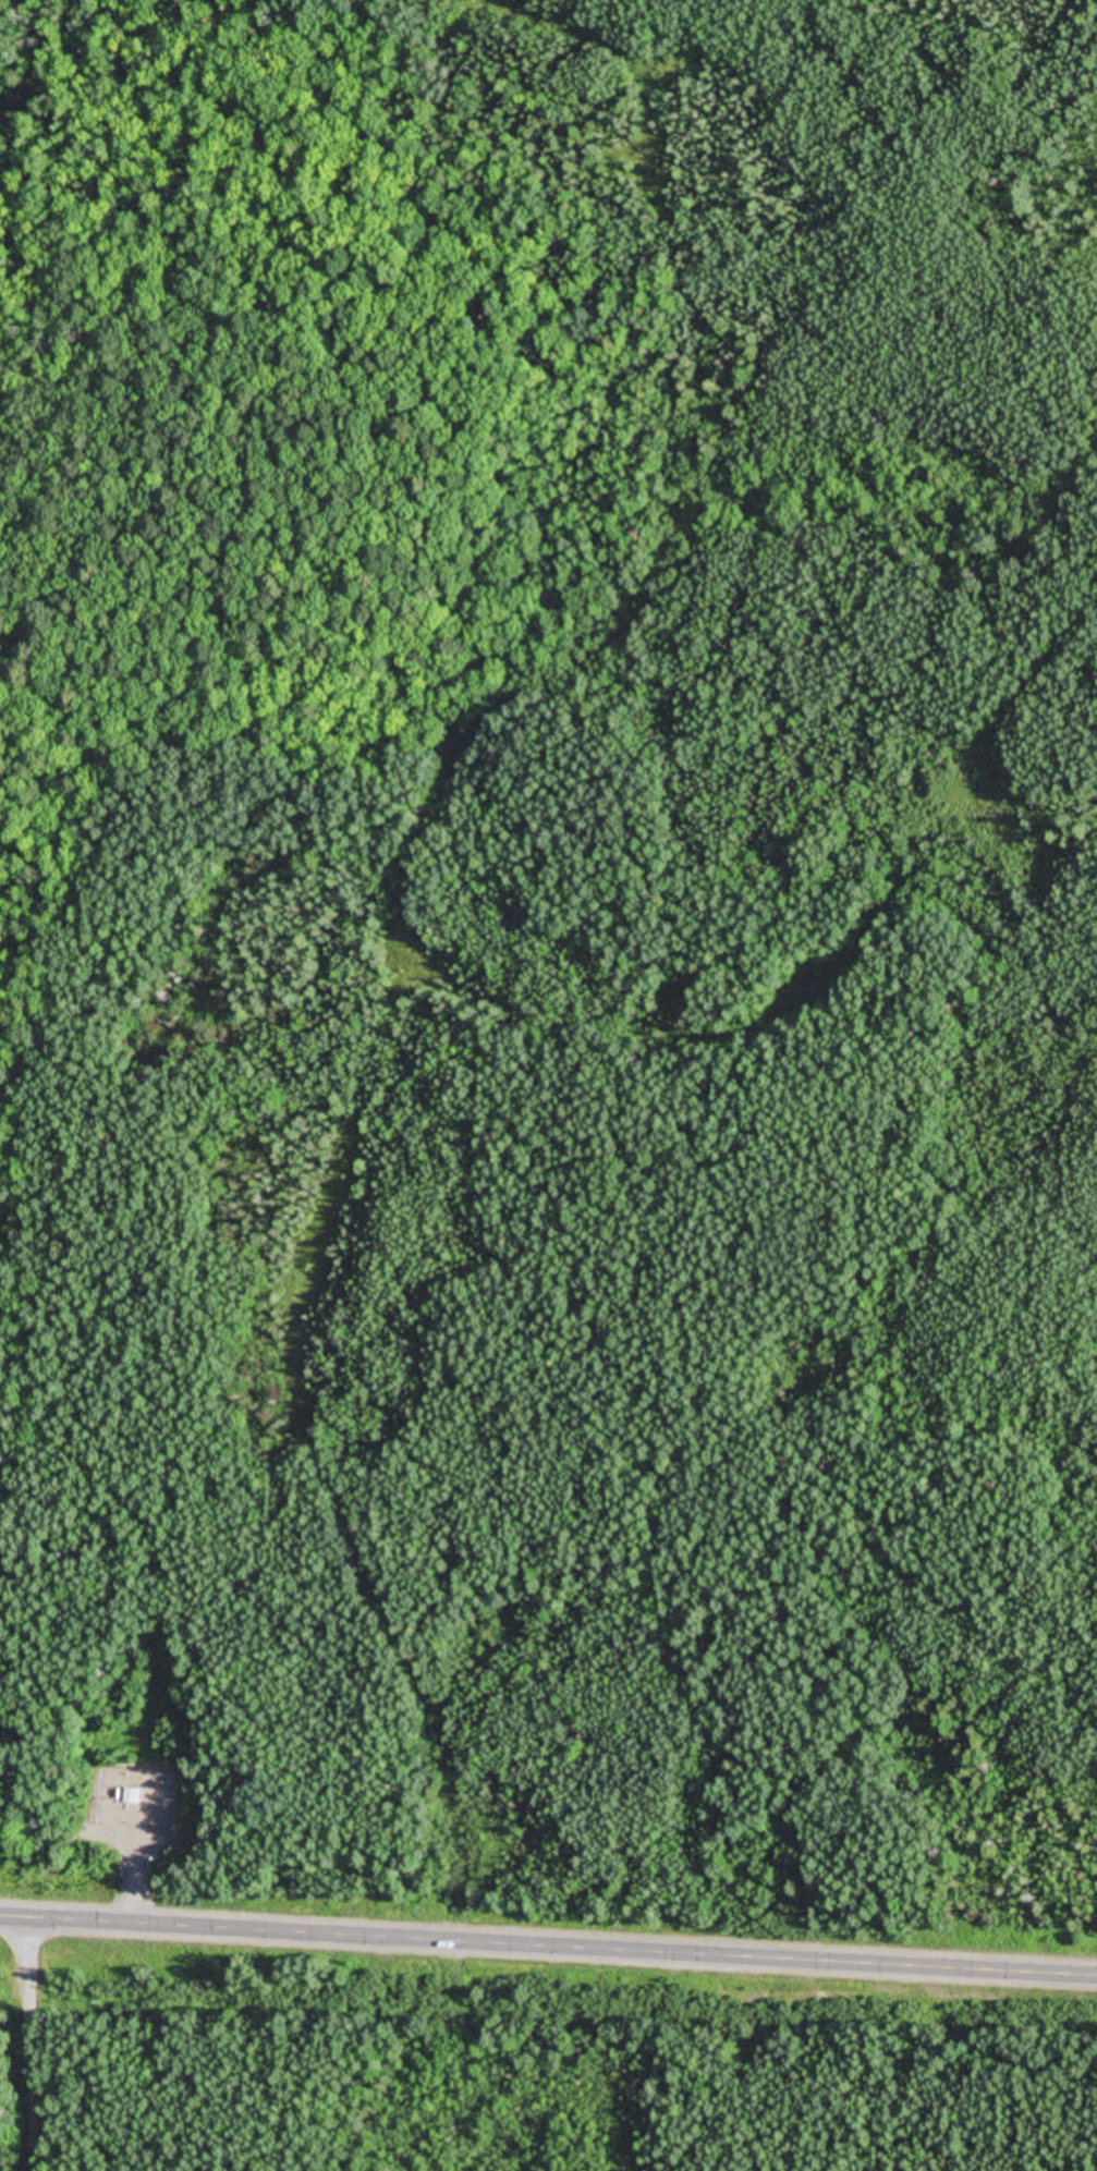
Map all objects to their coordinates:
road: (548, 1942)
road: (33, 2040)

